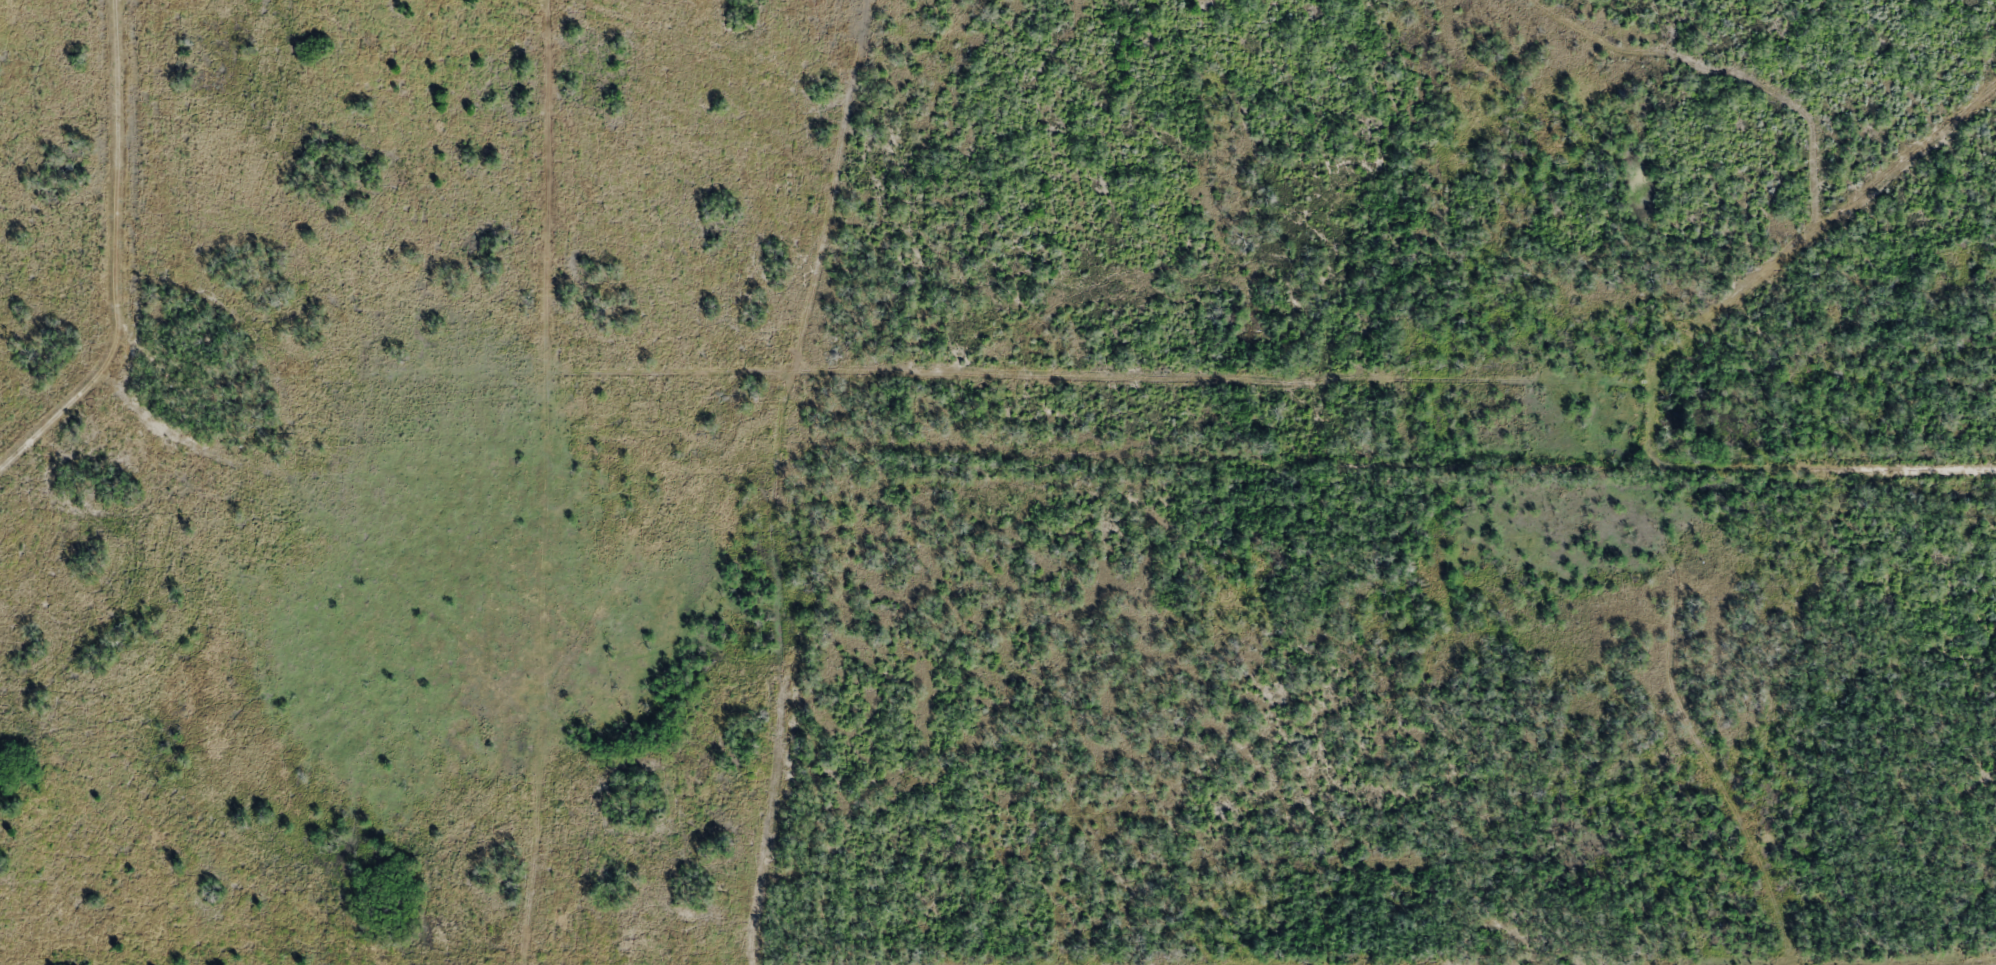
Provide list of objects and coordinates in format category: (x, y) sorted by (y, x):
road: (110, 264)
road: (1905, 467)

